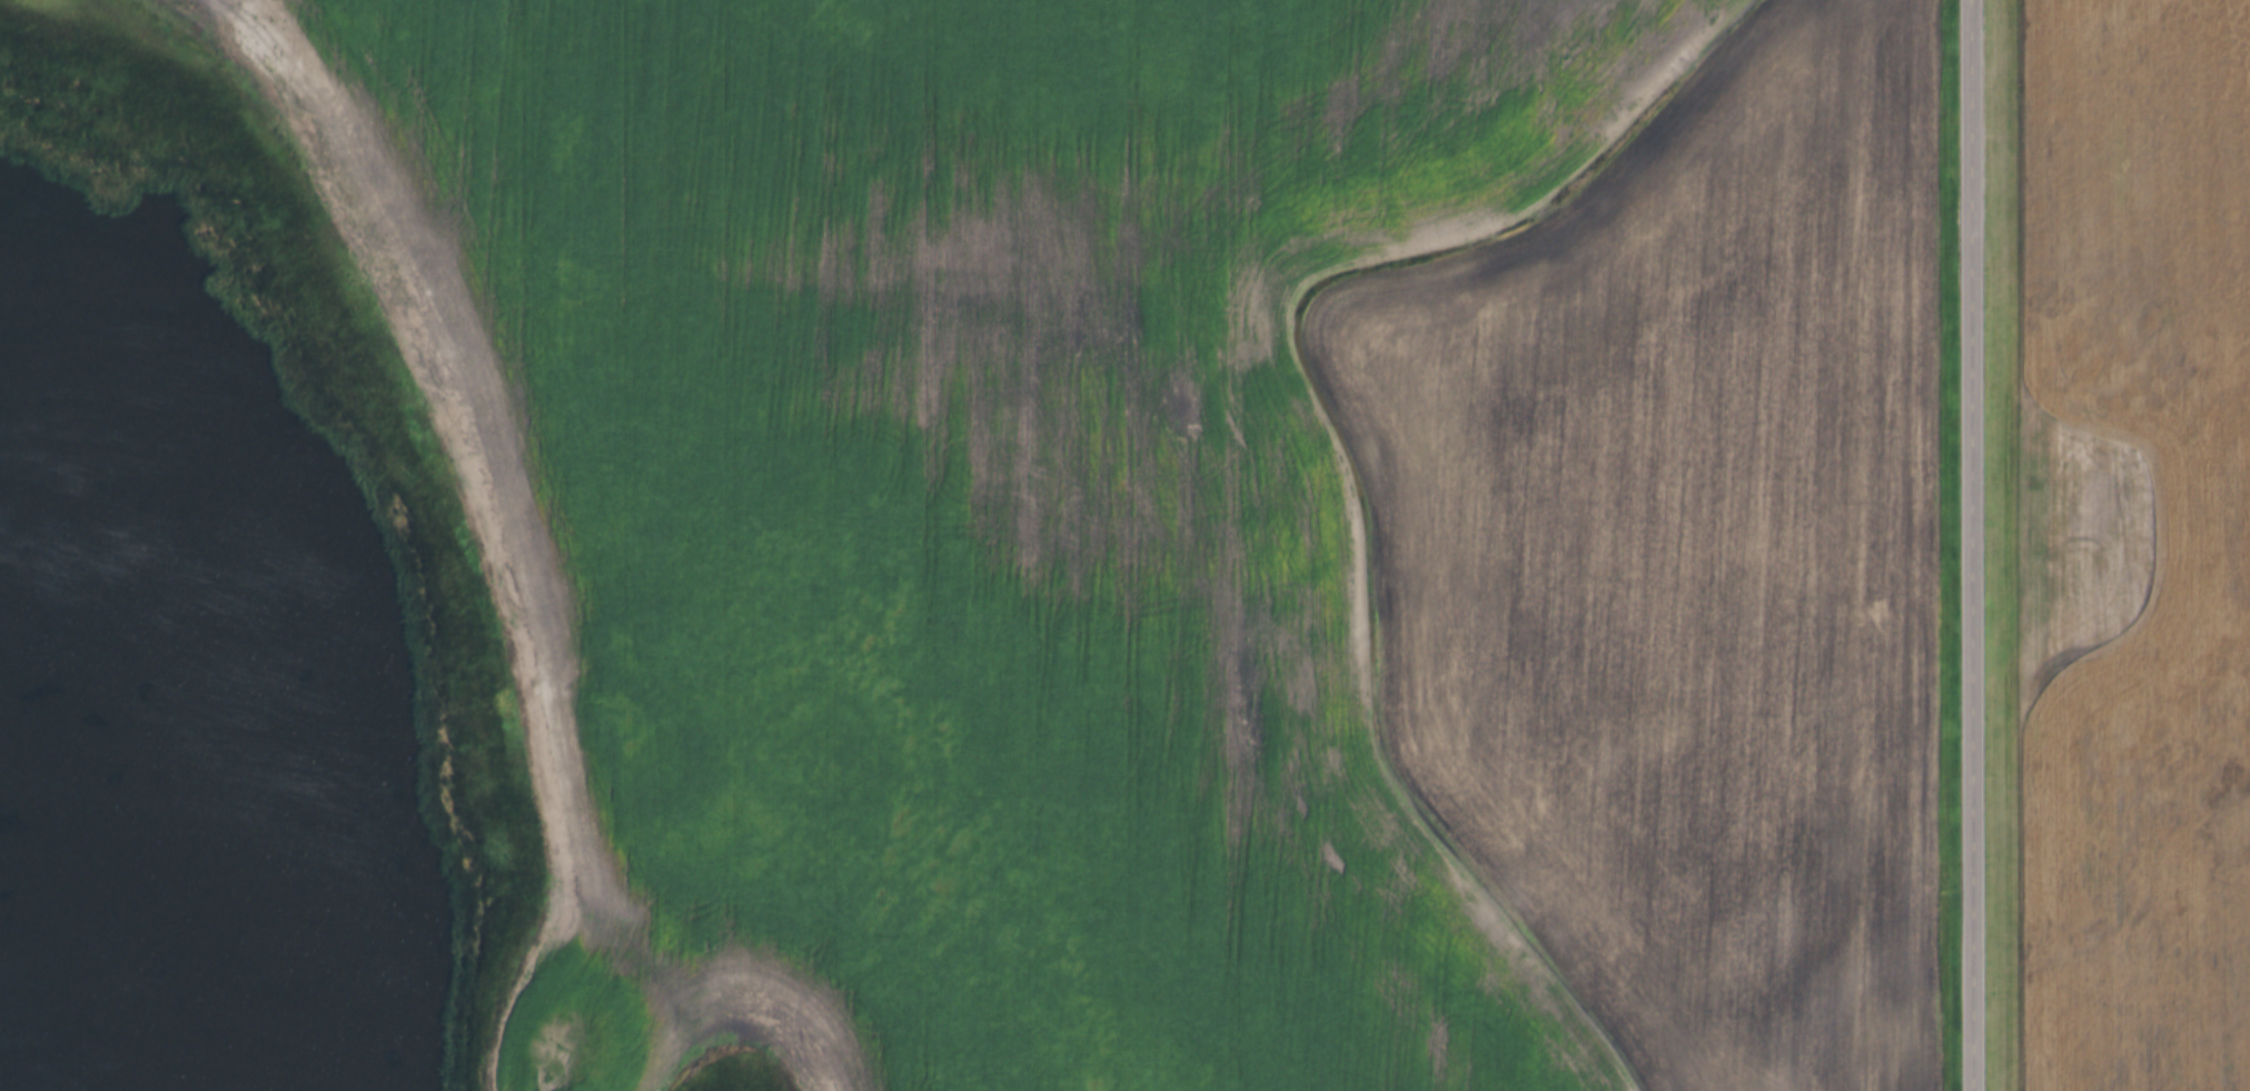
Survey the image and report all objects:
road: (1971, 545)

